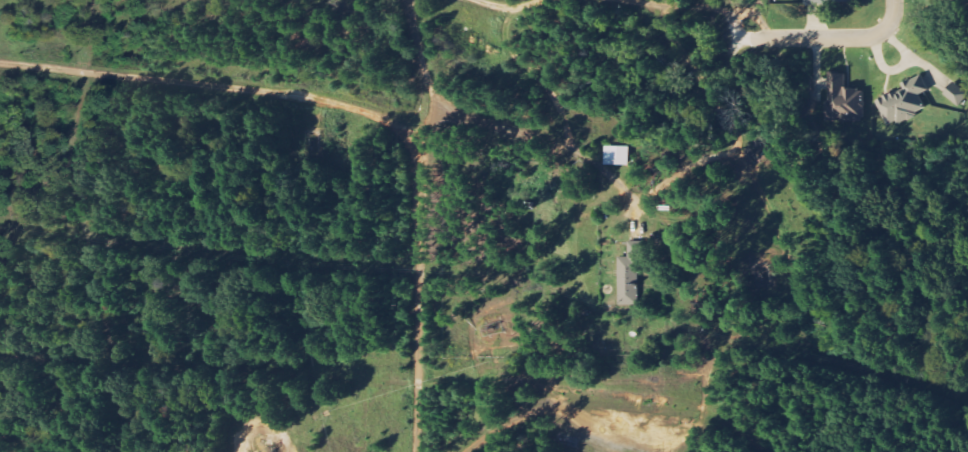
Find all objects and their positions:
building: (830, 1)
road: (690, 7)
road: (507, 9)
road: (827, 38)
road: (213, 87)
building: (956, 94)
building: (843, 98)
building: (903, 102)
building: (618, 156)
road: (421, 224)
building: (631, 275)
road: (703, 377)
road: (474, 413)
road: (603, 421)

